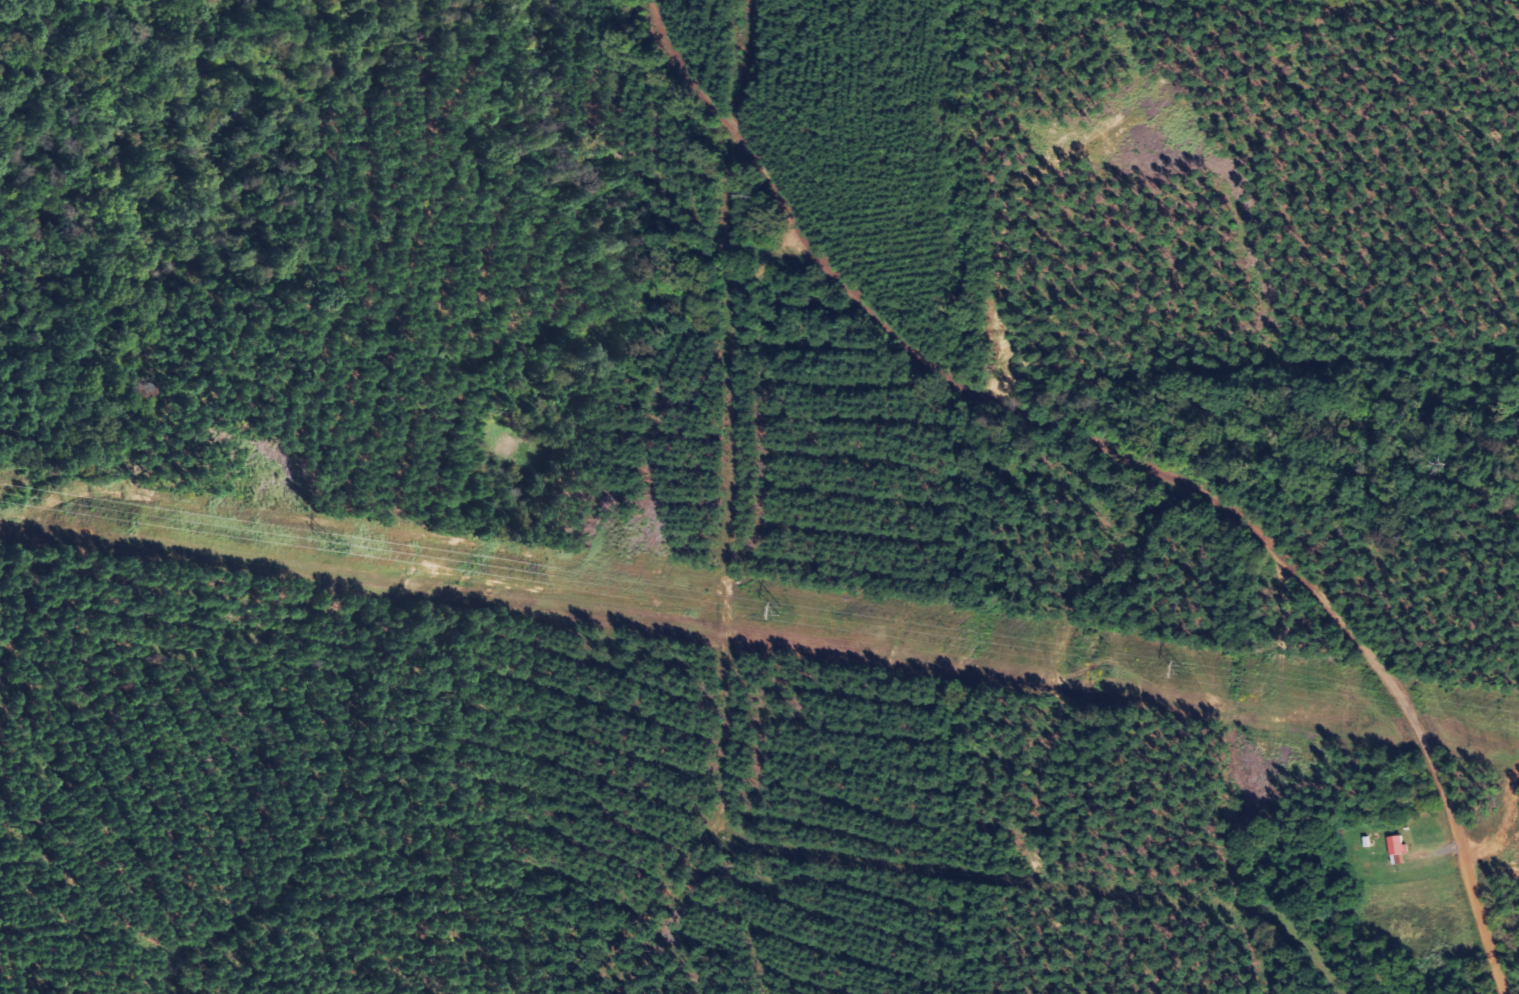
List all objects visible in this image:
road: (1121, 458)
building: (1397, 845)

